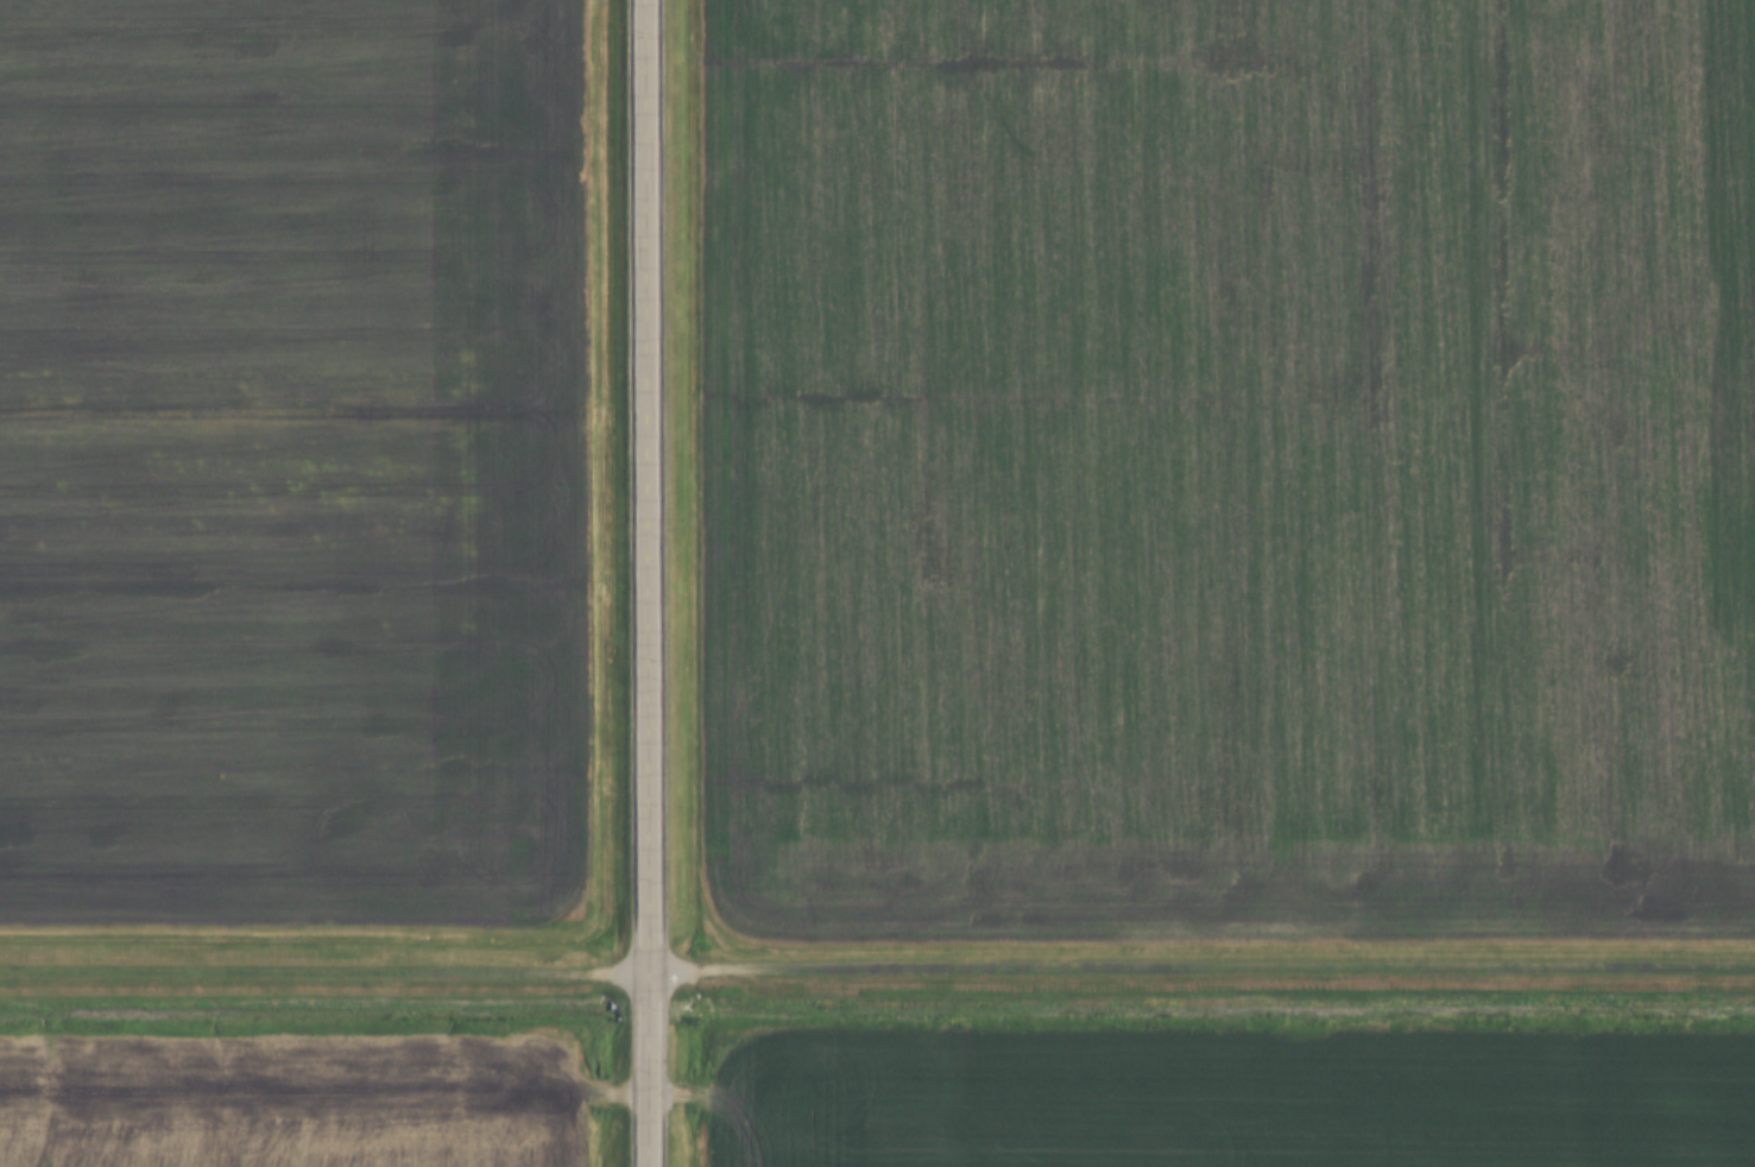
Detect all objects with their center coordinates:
road: (652, 583)
road: (877, 970)

